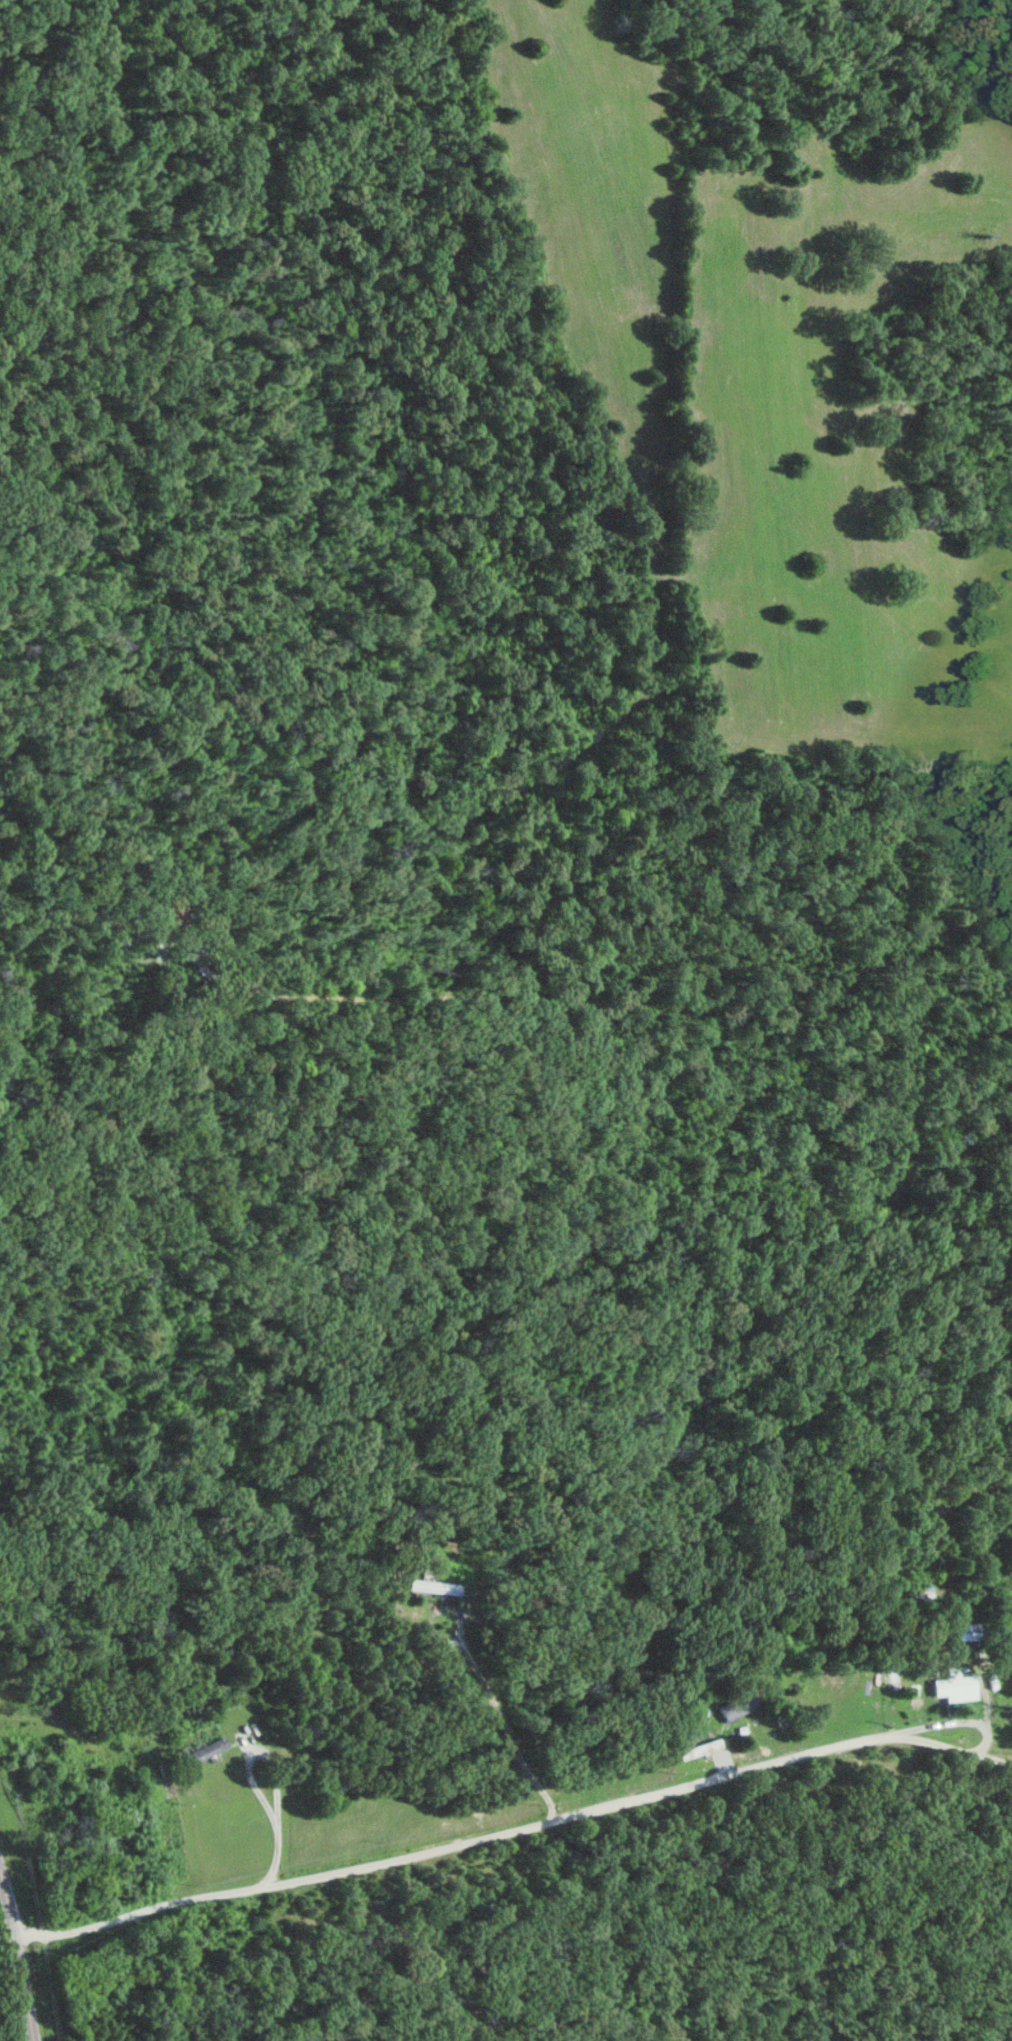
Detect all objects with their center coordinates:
road: (84, 929)
building: (432, 1586)
building: (970, 1630)
road: (478, 1675)
building: (956, 1685)
building: (739, 1705)
road: (958, 1747)
building: (203, 1753)
road: (492, 1830)
road: (8, 1903)
road: (26, 1987)

